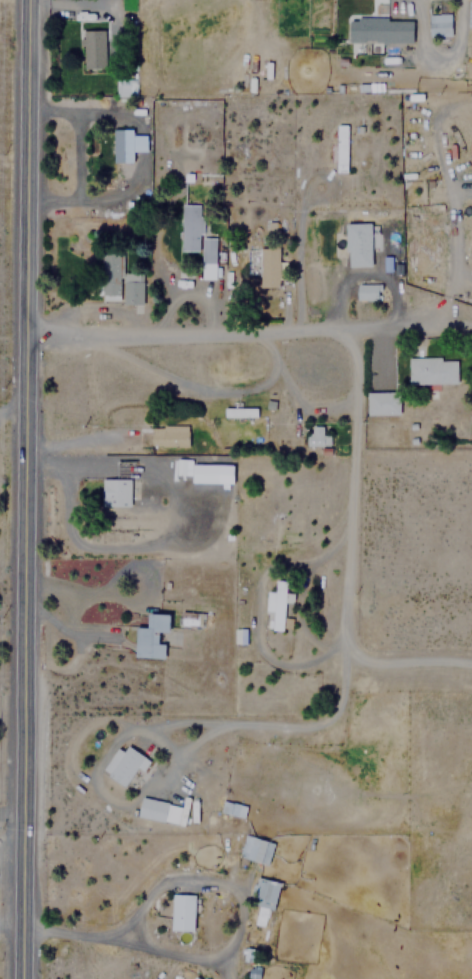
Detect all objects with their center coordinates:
building: (441, 25)
building: (379, 29)
building: (92, 48)
building: (126, 87)
building: (125, 144)
building: (344, 148)
building: (196, 239)
building: (361, 244)
building: (268, 267)
building: (364, 275)
building: (118, 281)
road: (248, 333)
building: (432, 371)
building: (382, 403)
building: (239, 413)
building: (412, 431)
building: (169, 435)
building: (316, 436)
building: (213, 474)
road: (350, 483)
building: (117, 486)
road: (24, 489)
building: (279, 605)
building: (150, 635)
road: (404, 661)
road: (246, 725)
building: (123, 763)
building: (232, 808)
building: (161, 811)
building: (254, 849)
building: (263, 893)
building: (182, 912)

